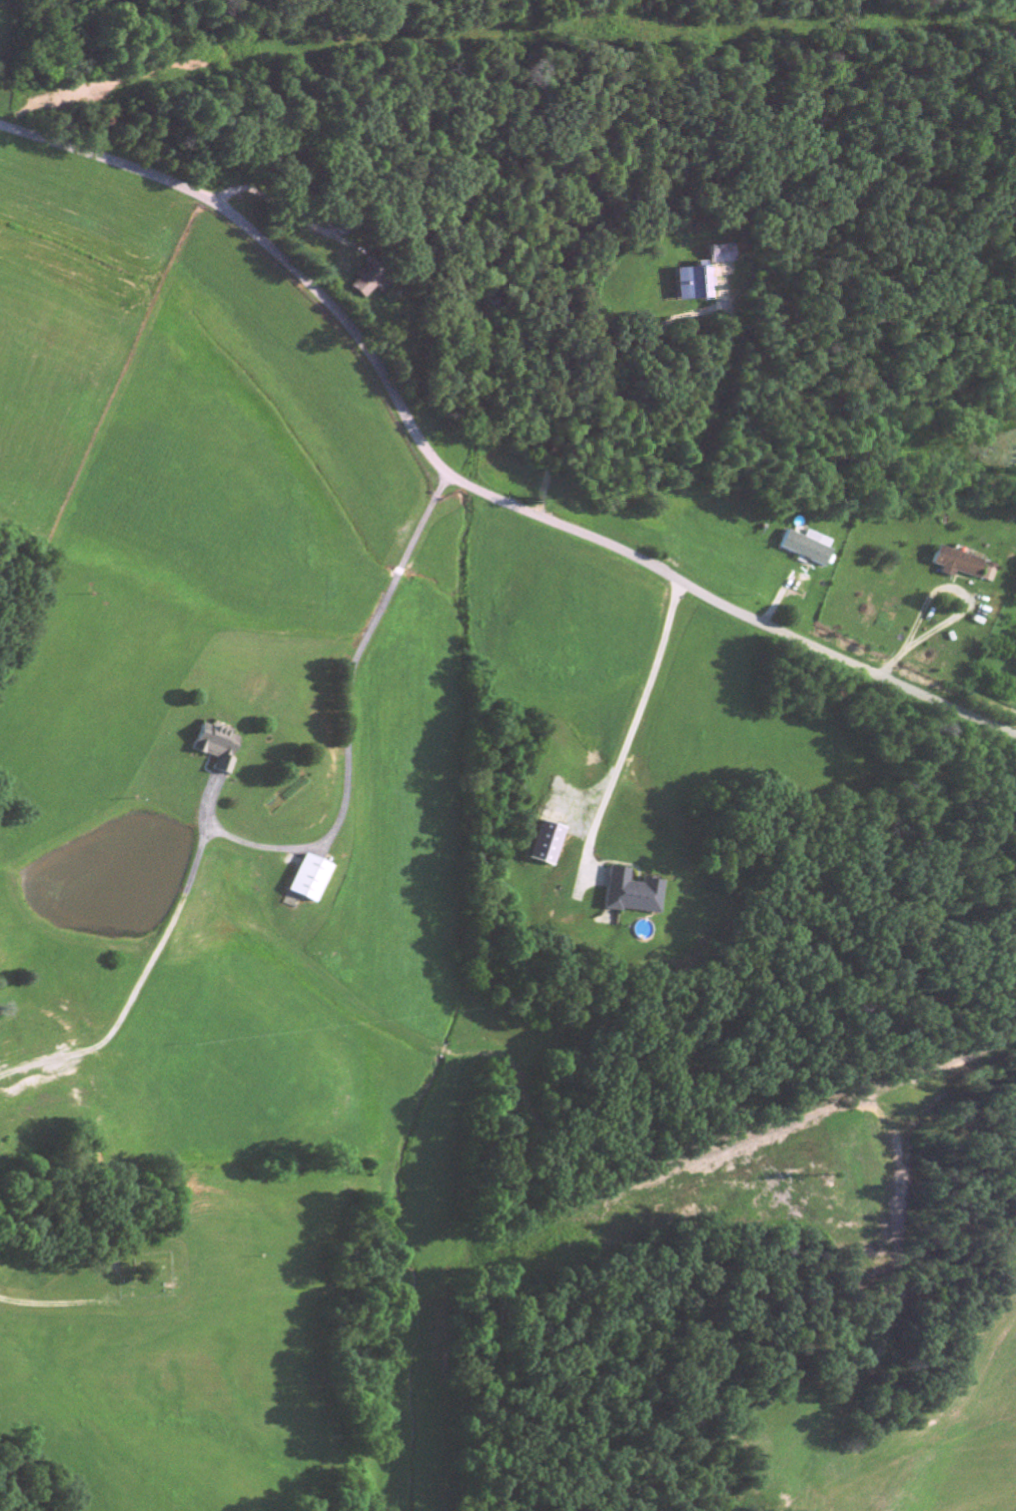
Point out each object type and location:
road: (268, 205)
building: (339, 225)
building: (723, 257)
building: (362, 281)
building: (695, 287)
road: (601, 399)
road: (463, 483)
building: (809, 548)
building: (966, 566)
road: (966, 603)
road: (347, 711)
road: (641, 718)
building: (215, 747)
building: (548, 844)
building: (308, 880)
building: (634, 894)
park: (143, 1274)

